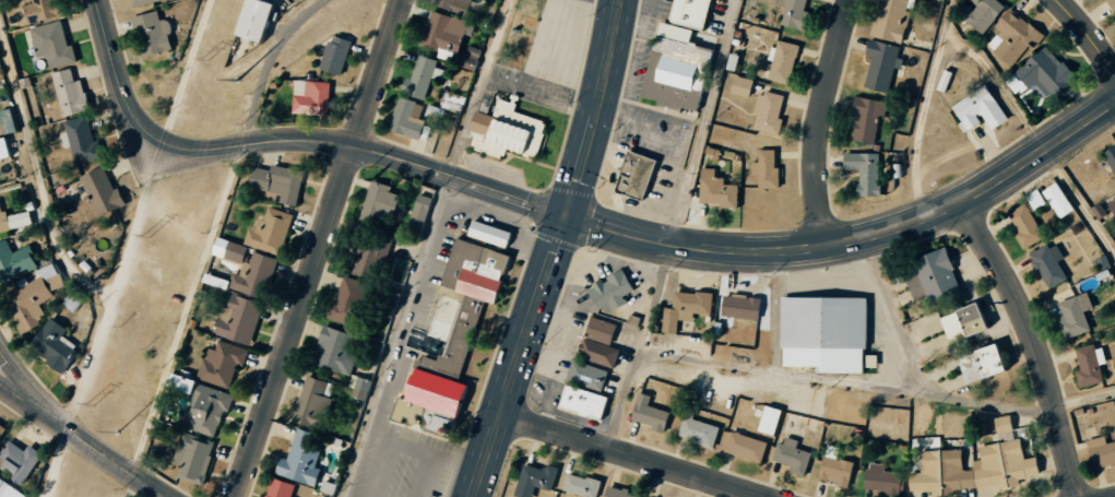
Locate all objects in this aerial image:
building: (138, 2)
building: (452, 4)
building: (1111, 4)
building: (46, 9)
building: (691, 12)
building: (978, 12)
building: (792, 14)
building: (249, 20)
building: (888, 20)
building: (150, 34)
road: (1088, 34)
building: (446, 35)
building: (1011, 38)
building: (55, 44)
building: (333, 55)
road: (605, 57)
building: (0, 58)
power tower: (206, 59)
building: (781, 61)
road: (266, 64)
building: (879, 64)
building: (1040, 73)
building: (676, 74)
building: (422, 78)
power tower: (237, 80)
building: (739, 86)
building: (73, 93)
building: (309, 97)
road: (923, 109)
building: (976, 110)
building: (766, 113)
building: (406, 118)
building: (864, 120)
road: (821, 121)
building: (506, 129)
building: (83, 140)
road: (286, 140)
building: (5, 149)
building: (1110, 158)
road: (579, 166)
building: (764, 169)
building: (863, 171)
building: (636, 175)
building: (280, 181)
road: (37, 182)
building: (714, 190)
building: (105, 192)
building: (1033, 199)
building: (1055, 200)
building: (378, 203)
building: (1112, 206)
building: (417, 217)
traffic signals: (565, 218)
road: (902, 226)
building: (1023, 226)
building: (272, 232)
road: (613, 232)
building: (486, 234)
power tower: (151, 237)
road: (317, 247)
building: (373, 250)
building: (233, 255)
road: (551, 257)
building: (16, 261)
building: (1047, 264)
building: (252, 276)
building: (929, 276)
road: (116, 287)
building: (609, 292)
building: (36, 298)
building: (352, 301)
building: (738, 307)
road: (185, 308)
building: (684, 309)
building: (1071, 315)
building: (242, 320)
building: (455, 321)
building: (960, 323)
building: (822, 334)
building: (596, 343)
road: (1034, 344)
building: (56, 345)
building: (337, 351)
road: (395, 354)
building: (224, 364)
building: (977, 364)
building: (1088, 365)
building: (584, 376)
building: (363, 387)
road: (506, 395)
road: (1086, 400)
building: (317, 402)
building: (580, 402)
power tower: (93, 405)
building: (206, 406)
building: (647, 413)
building: (767, 421)
building: (697, 431)
building: (2, 433)
power tower: (117, 433)
road: (83, 442)
building: (744, 447)
building: (1100, 452)
building: (790, 455)
road: (628, 457)
building: (195, 458)
building: (22, 461)
building: (1004, 464)
building: (833, 471)
road: (428, 476)
building: (533, 480)
building: (880, 480)
building: (579, 486)
building: (283, 488)
building: (10, 489)
building: (617, 493)

